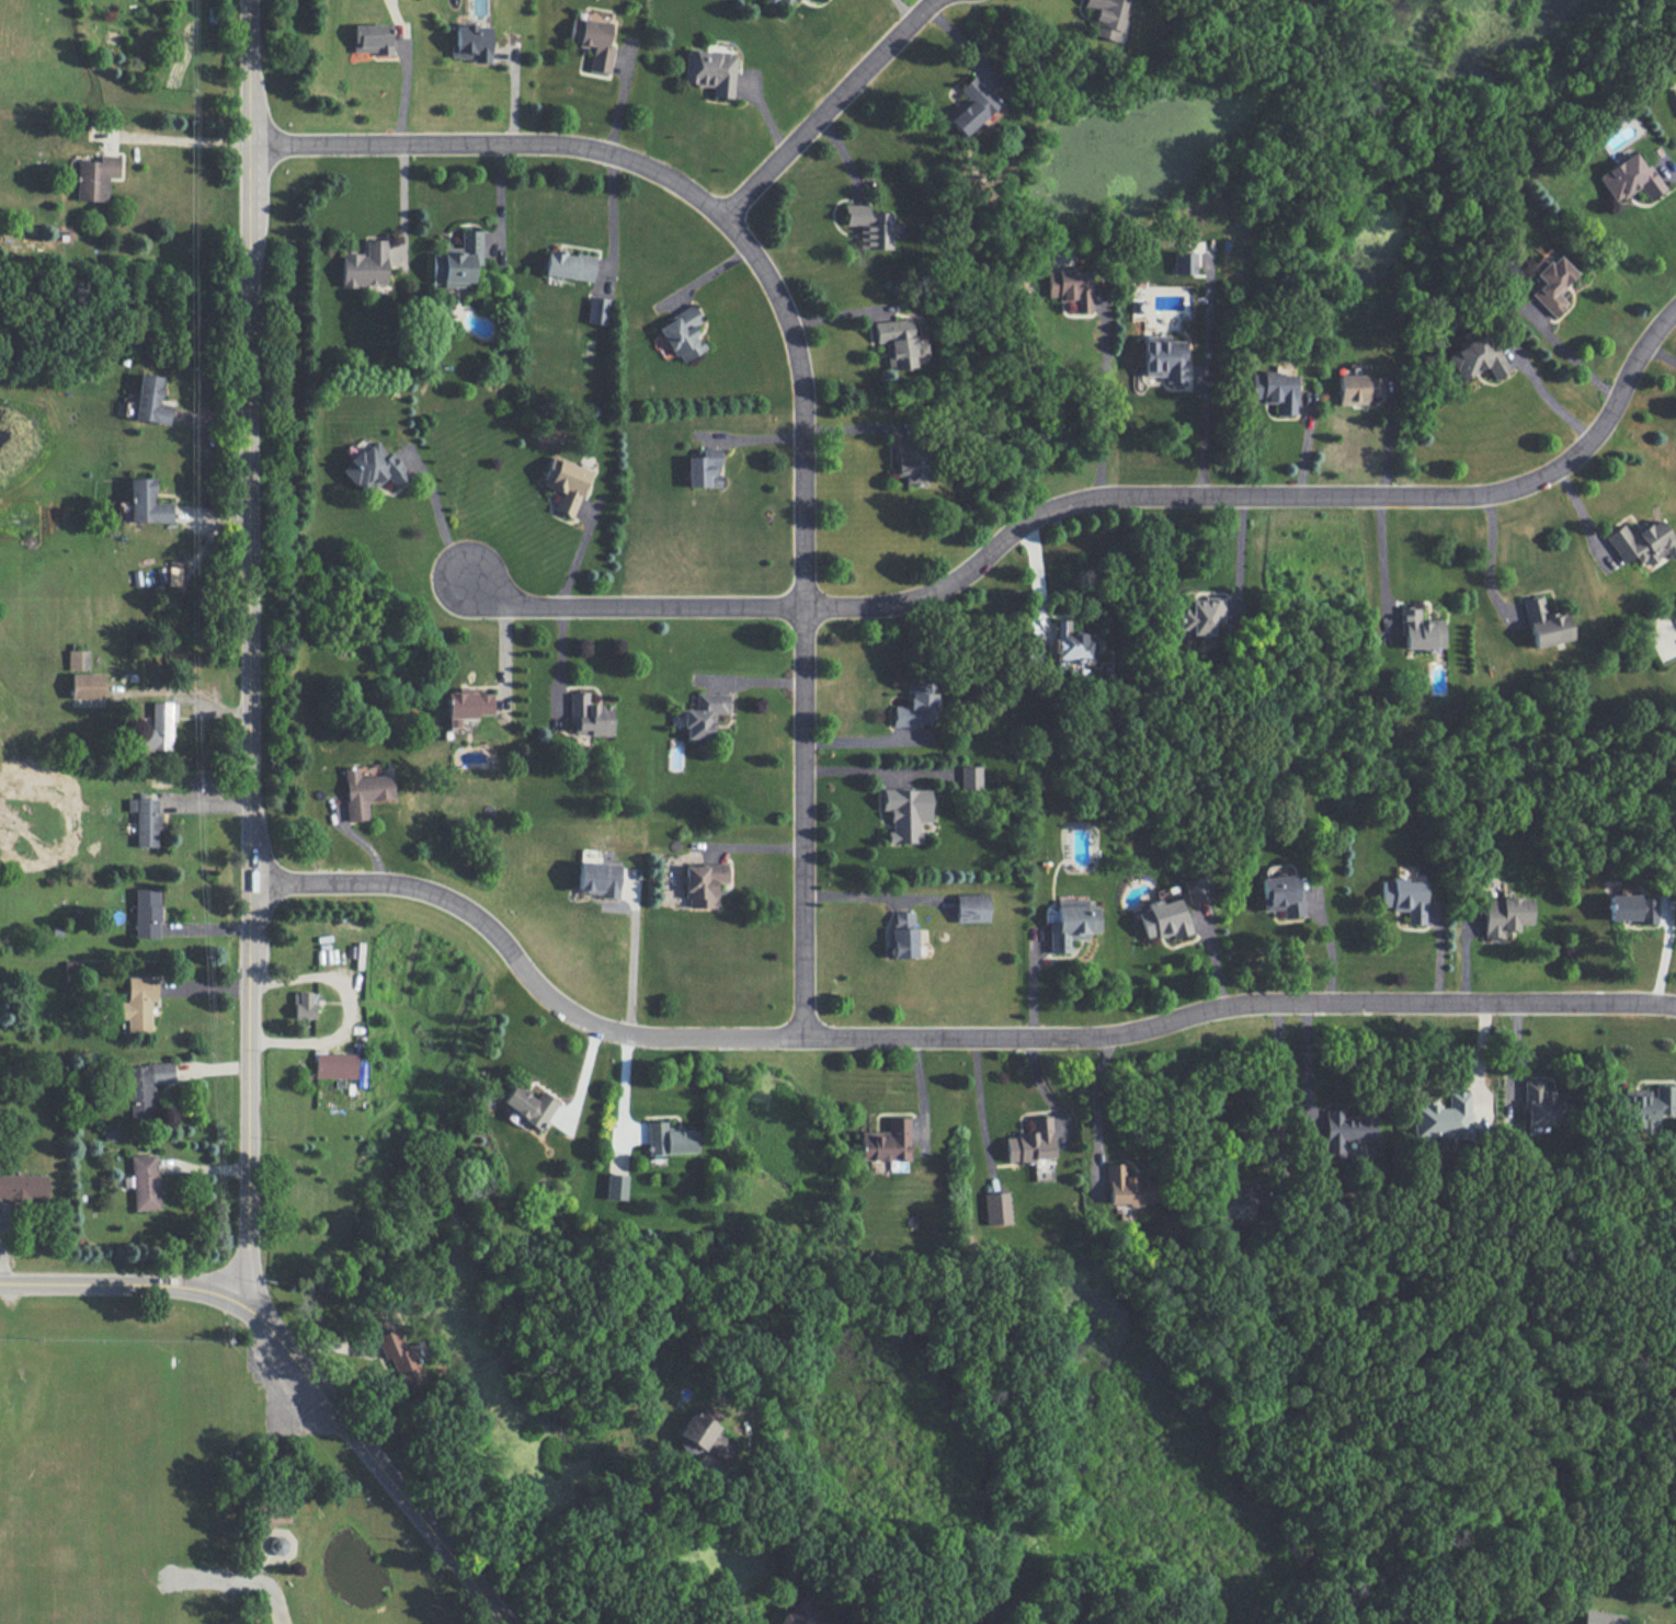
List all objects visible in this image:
building: (769, 1)
building: (787, 1)
road: (910, 7)
building: (1106, 18)
building: (370, 38)
building: (471, 42)
building: (596, 44)
building: (710, 71)
road: (620, 96)
building: (971, 106)
road: (824, 110)
road: (176, 131)
road: (1674, 168)
building: (94, 178)
building: (1630, 179)
road: (498, 198)
road: (609, 214)
building: (870, 226)
building: (461, 260)
building: (1183, 262)
building: (365, 265)
building: (569, 265)
building: (1550, 283)
building: (1070, 287)
building: (596, 310)
building: (682, 333)
building: (899, 343)
building: (1163, 357)
building: (1477, 358)
road: (798, 367)
road: (1569, 369)
building: (1358, 388)
building: (150, 400)
road: (1551, 403)
road: (1099, 414)
road: (1202, 435)
building: (910, 461)
building: (374, 468)
building: (704, 468)
building: (568, 484)
building: (146, 502)
road: (1095, 502)
road: (440, 508)
road: (579, 549)
road: (1240, 552)
road: (1486, 562)
road: (1379, 567)
building: (174, 573)
building: (1199, 615)
building: (1544, 622)
road: (250, 628)
building: (1418, 630)
building: (1071, 643)
building: (77, 659)
road: (560, 660)
road: (504, 663)
road: (191, 686)
building: (466, 705)
building: (917, 705)
building: (704, 716)
building: (589, 717)
building: (157, 729)
road: (870, 742)
road: (868, 771)
building: (970, 777)
building: (363, 792)
building: (905, 812)
building: (145, 820)
building: (597, 878)
building: (702, 883)
building: (1197, 889)
building: (1281, 895)
road: (871, 897)
building: (1404, 897)
building: (971, 907)
building: (1631, 907)
building: (147, 913)
building: (1503, 915)
building: (1163, 918)
building: (1069, 923)
building: (902, 934)
road: (1334, 948)
road: (634, 961)
building: (138, 1003)
building: (304, 1005)
road: (350, 1009)
road: (942, 1038)
road: (1307, 1063)
building: (334, 1065)
building: (146, 1088)
road: (1279, 1098)
building: (1541, 1103)
building: (528, 1105)
road: (1095, 1110)
building: (1443, 1117)
building: (1346, 1130)
building: (669, 1139)
building: (886, 1142)
building: (1030, 1142)
building: (144, 1181)
building: (616, 1186)
building: (23, 1187)
building: (1127, 1187)
building: (1235, 1203)
building: (996, 1208)
road: (240, 1279)
road: (103, 1282)
road: (224, 1295)
road: (250, 1311)
building: (399, 1358)
parking lot: (277, 1399)
building: (703, 1438)
road: (381, 1473)
park: (175, 1488)
building: (277, 1544)
road: (613, 1544)
road: (239, 1581)
building: (801, 1614)
building: (1604, 1617)

